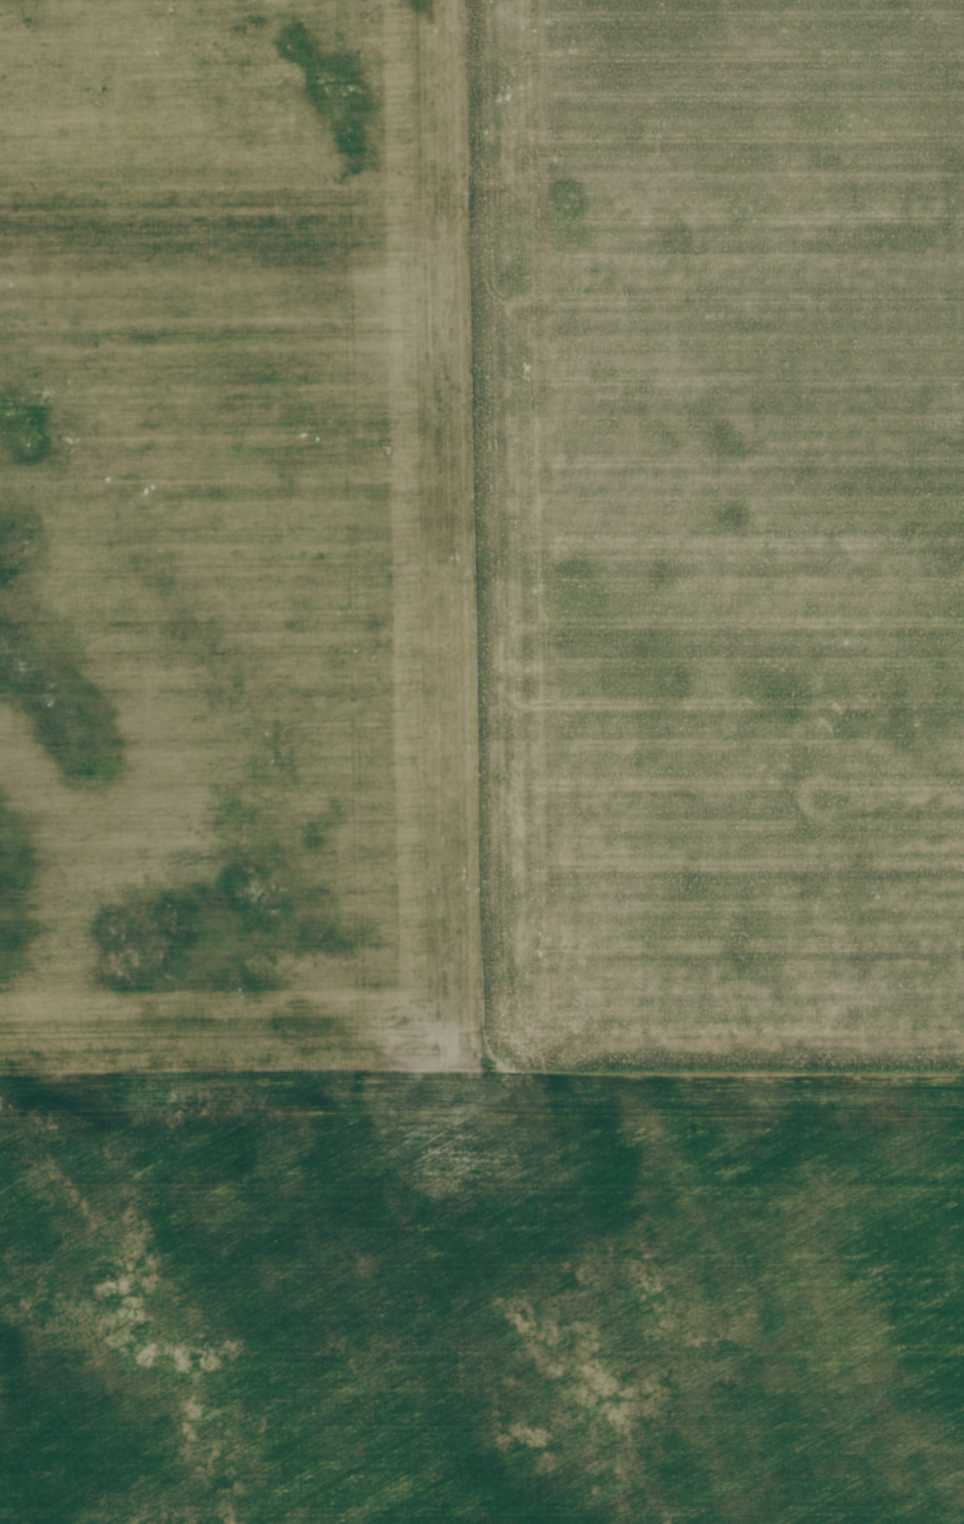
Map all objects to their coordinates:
crop: (482, 762)

